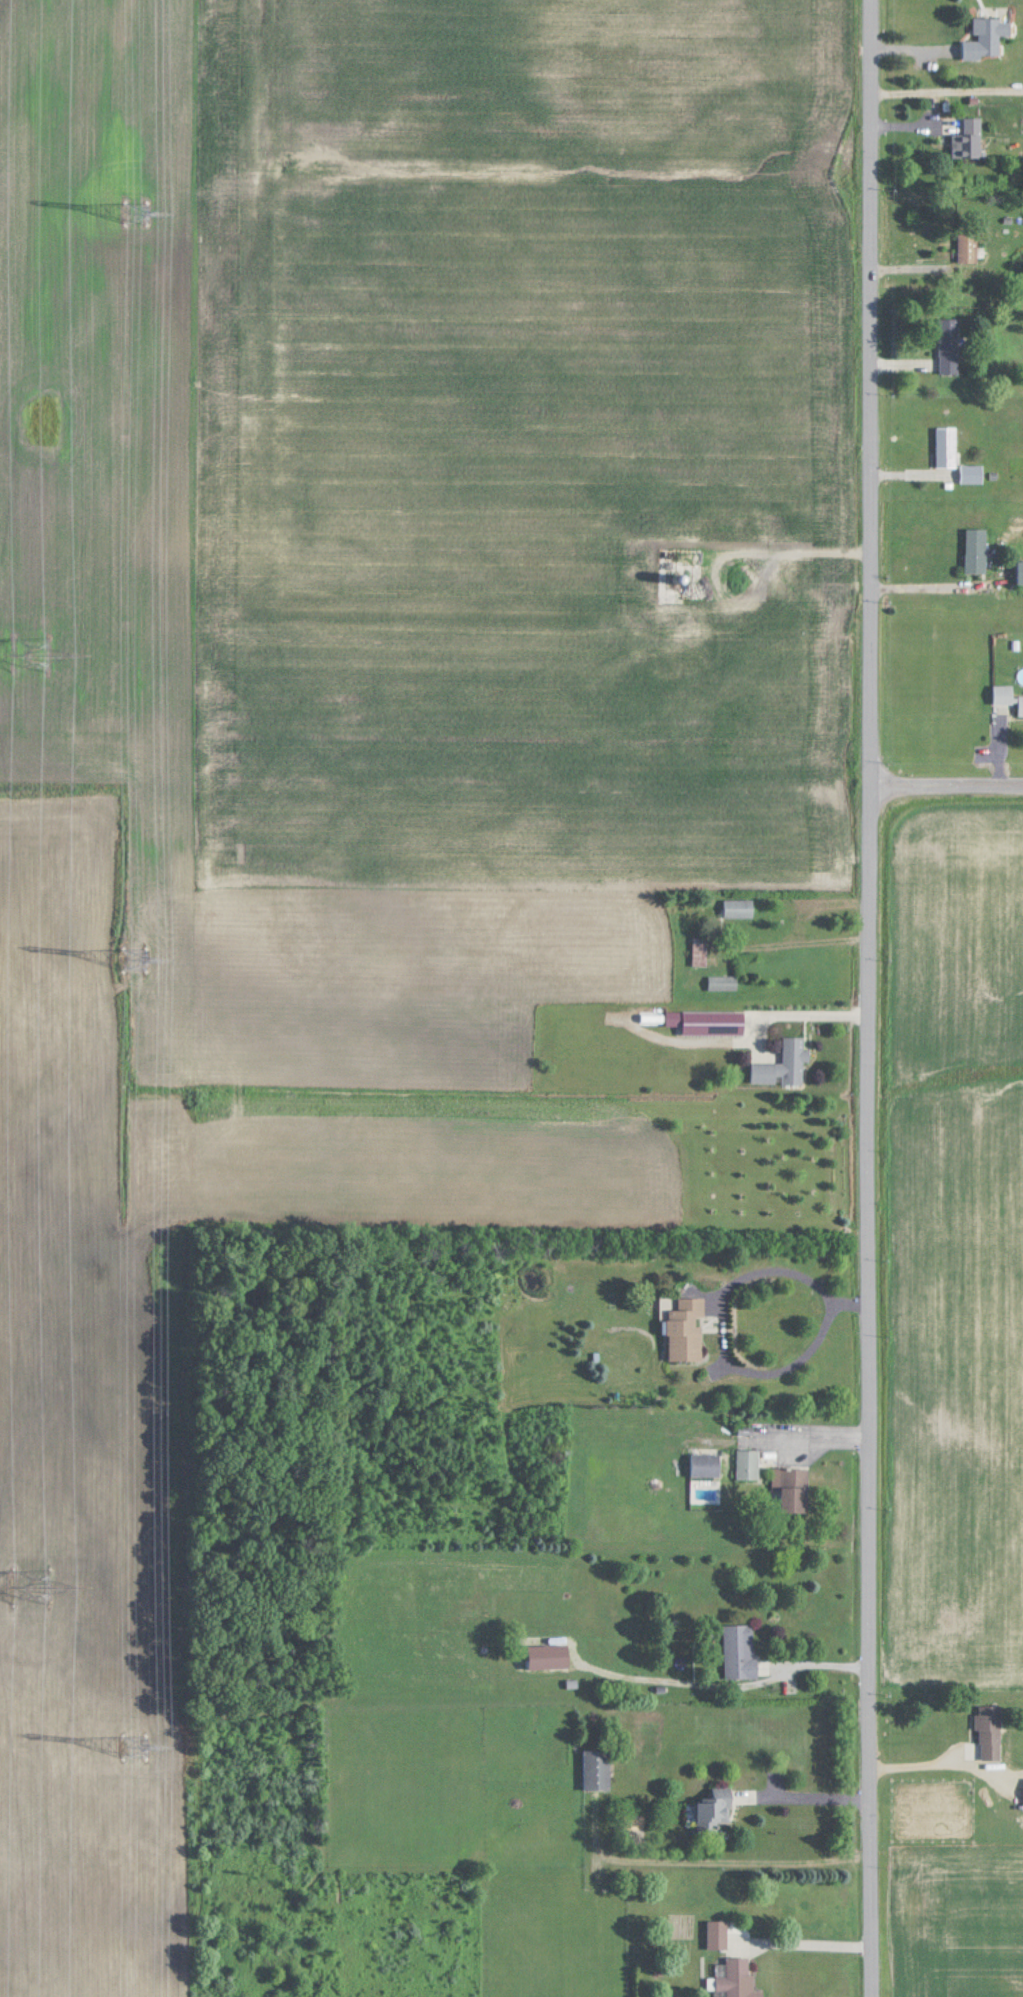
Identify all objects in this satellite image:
building: (987, 37)
building: (968, 139)
power tower: (139, 214)
building: (969, 248)
building: (950, 346)
building: (947, 447)
building: (973, 473)
building: (735, 524)
building: (977, 550)
building: (1021, 573)
building: (740, 577)
road: (929, 585)
building: (804, 587)
building: (691, 634)
power tower: (27, 647)
building: (1004, 694)
building: (1020, 705)
road: (947, 788)
building: (738, 908)
building: (699, 951)
power tower: (137, 953)
building: (722, 983)
road: (870, 998)
building: (708, 1022)
building: (785, 1065)
road: (720, 1328)
building: (686, 1329)
building: (705, 1464)
building: (748, 1464)
building: (791, 1488)
power tower: (15, 1582)
building: (739, 1650)
road: (732, 1695)
building: (991, 1732)
power tower: (140, 1743)
road: (933, 1765)
building: (596, 1769)
building: (1005, 1795)
road: (813, 1809)
building: (713, 1811)
road: (808, 1945)
building: (733, 1977)

